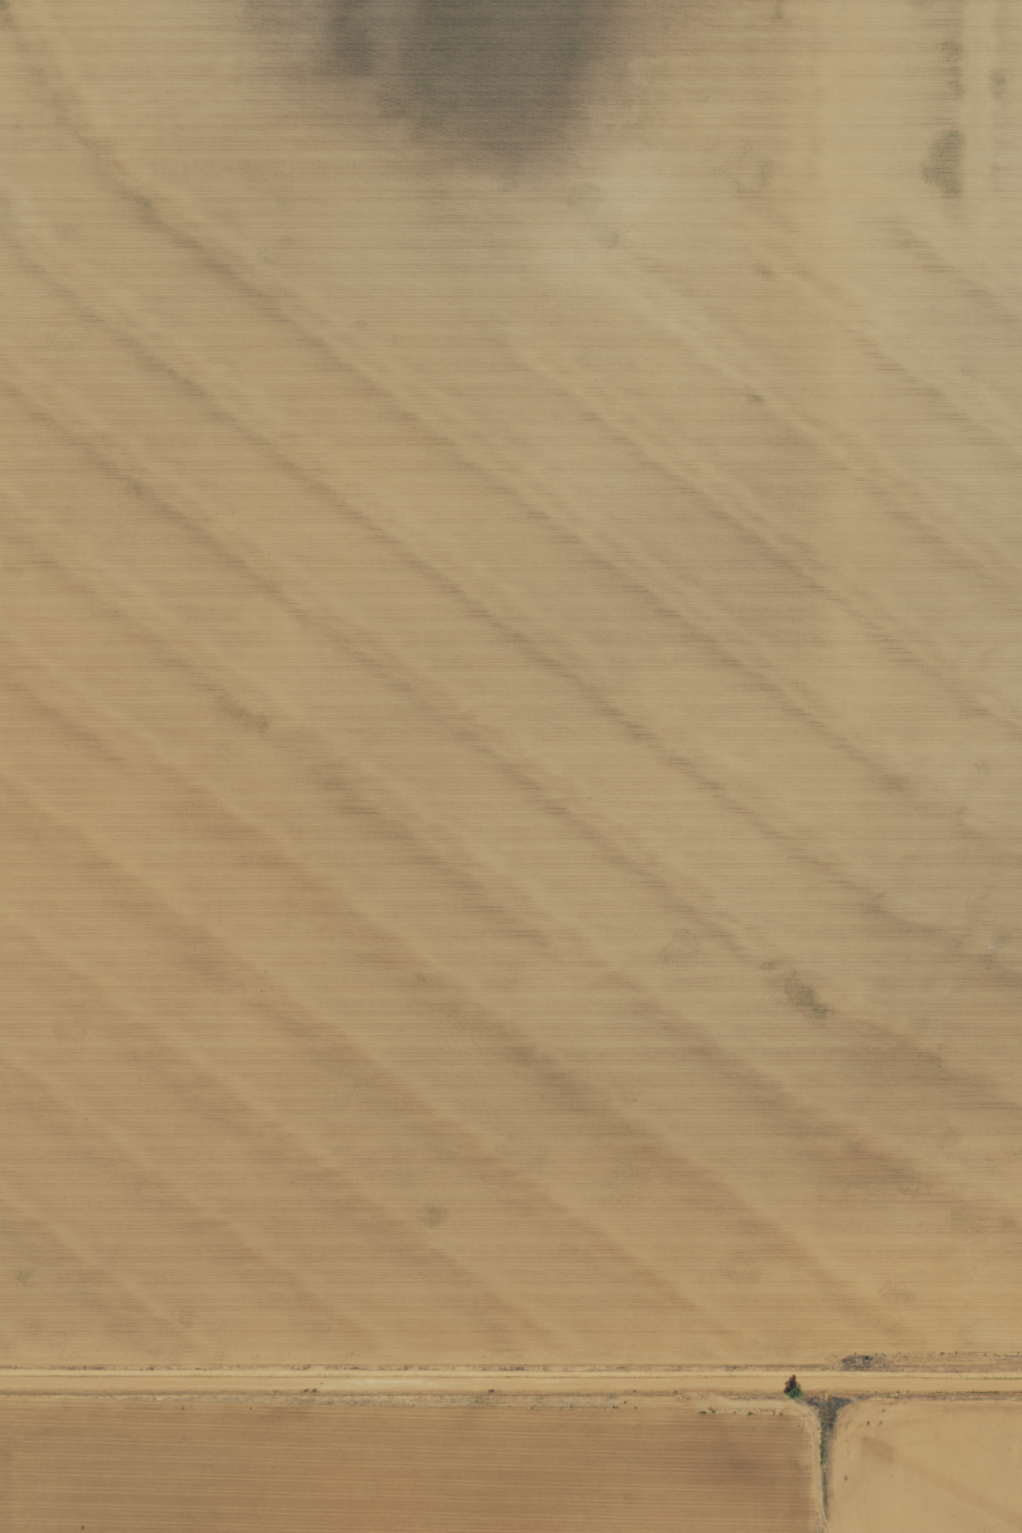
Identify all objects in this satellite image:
road: (511, 1383)

